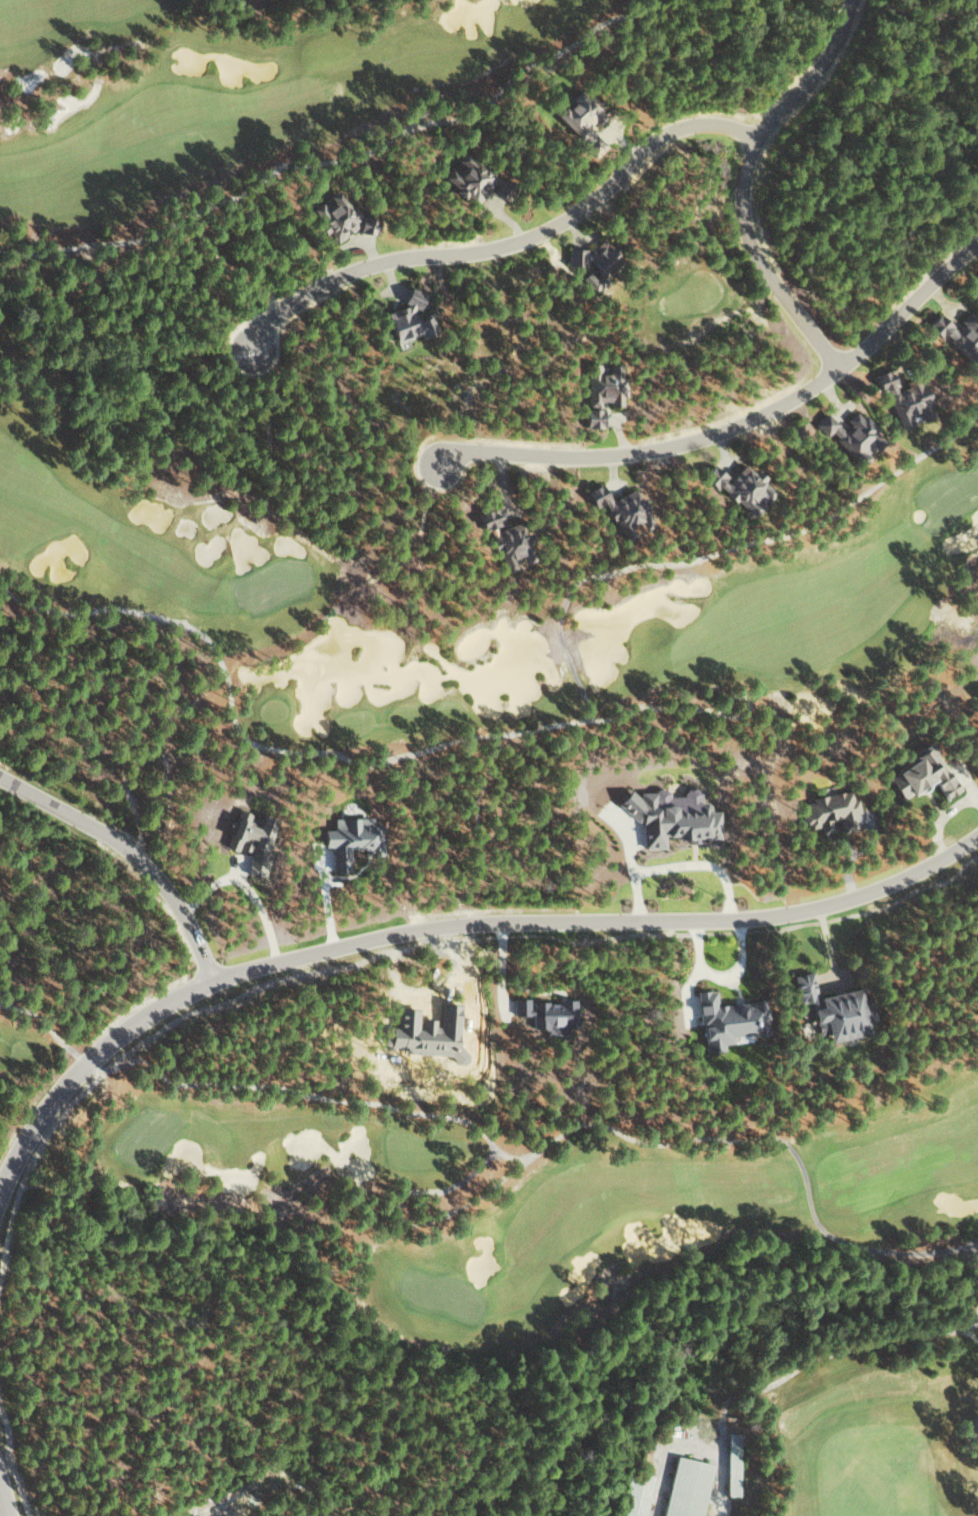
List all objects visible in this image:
building: (581, 121)
building: (466, 178)
road: (743, 184)
building: (336, 215)
road: (509, 244)
building: (591, 257)
building: (591, 281)
building: (407, 317)
building: (959, 334)
park: (47, 382)
building: (601, 391)
building: (904, 398)
road: (734, 425)
building: (851, 435)
building: (739, 486)
building: (621, 509)
building: (505, 539)
building: (977, 697)
building: (921, 775)
building: (829, 811)
building: (670, 816)
building: (250, 840)
road: (129, 858)
road: (451, 925)
building: (830, 1010)
building: (547, 1014)
building: (727, 1021)
building: (417, 1032)
park: (622, 1258)
building: (732, 1464)
building: (685, 1488)
building: (633, 1494)
road: (0, 1513)

